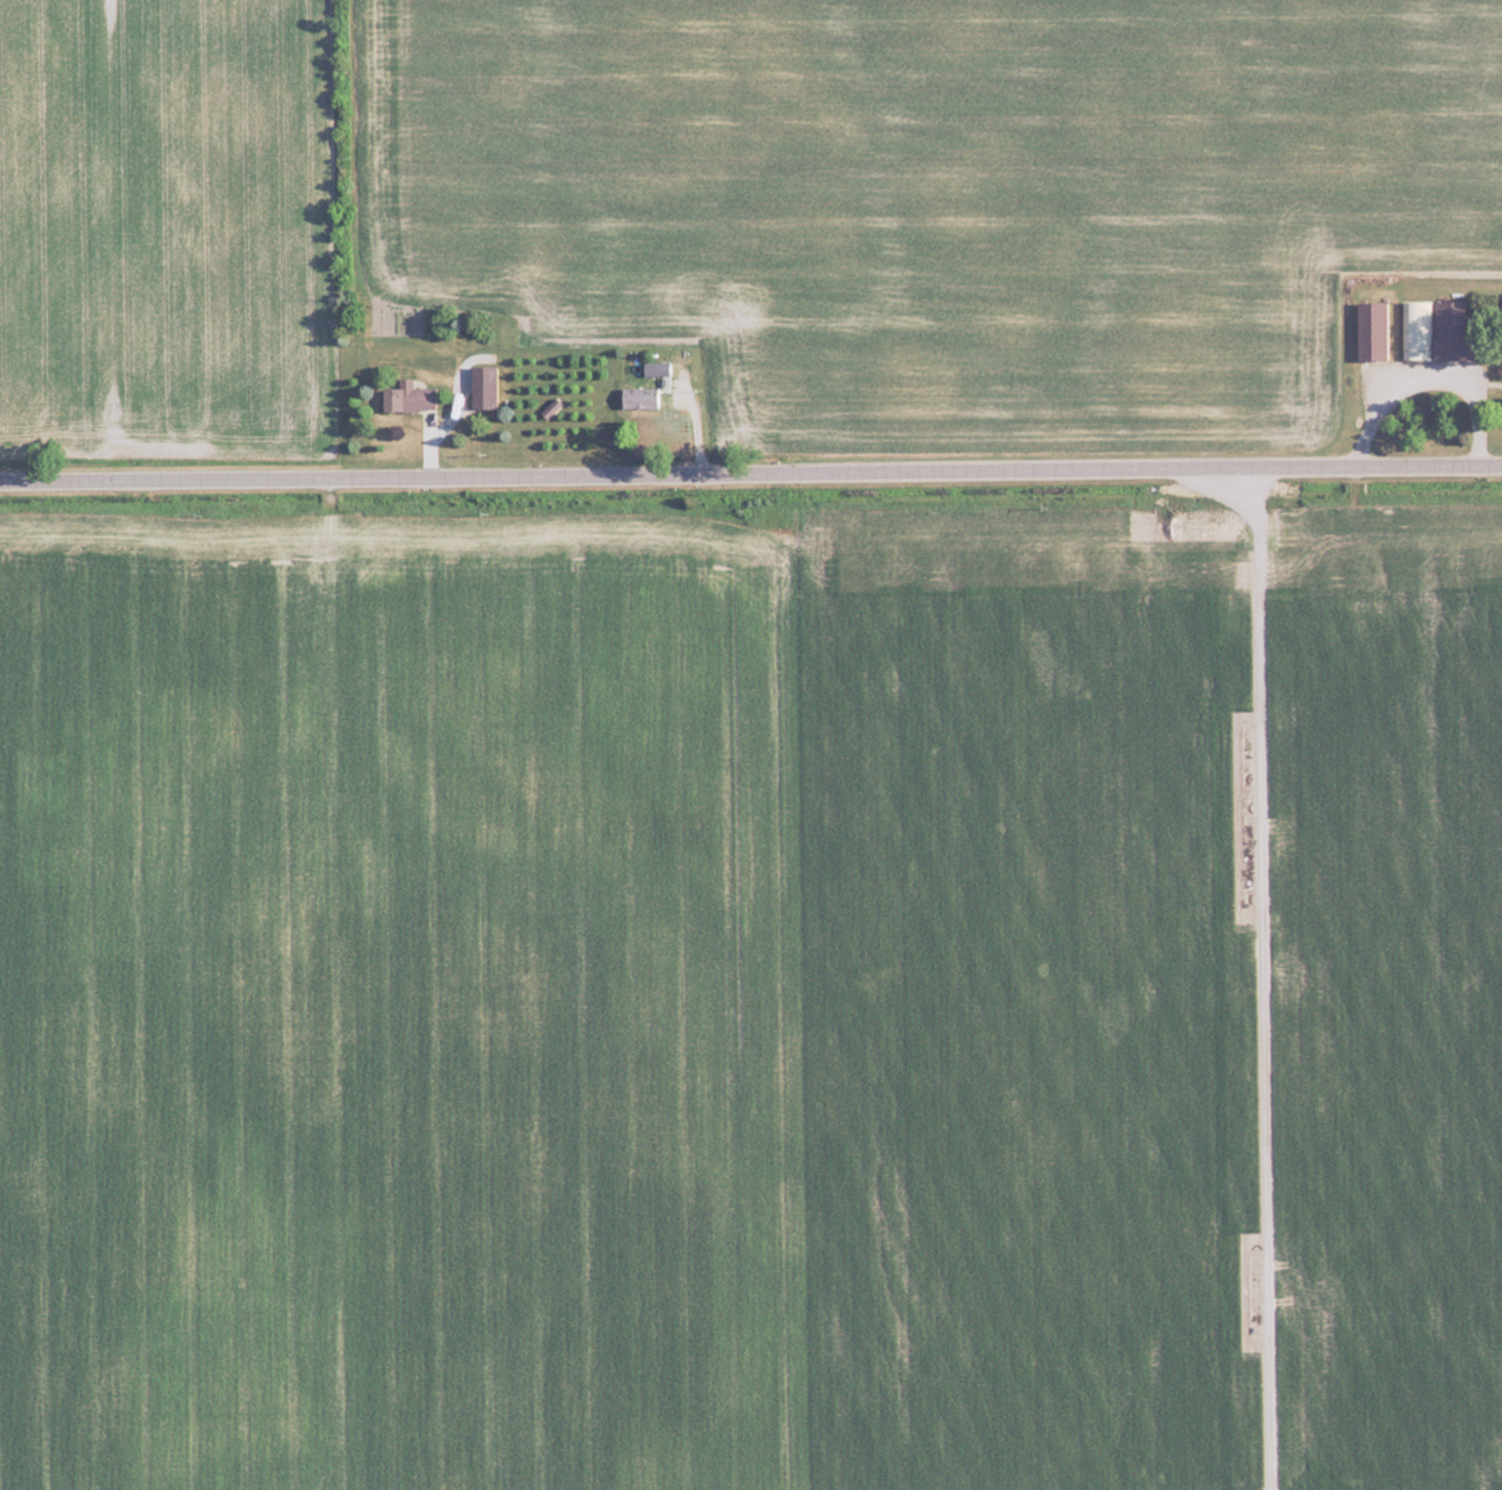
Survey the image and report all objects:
building: (1416, 329)
building: (1372, 330)
building: (1451, 331)
building: (656, 368)
building: (484, 386)
building: (409, 397)
building: (640, 397)
road: (750, 474)

